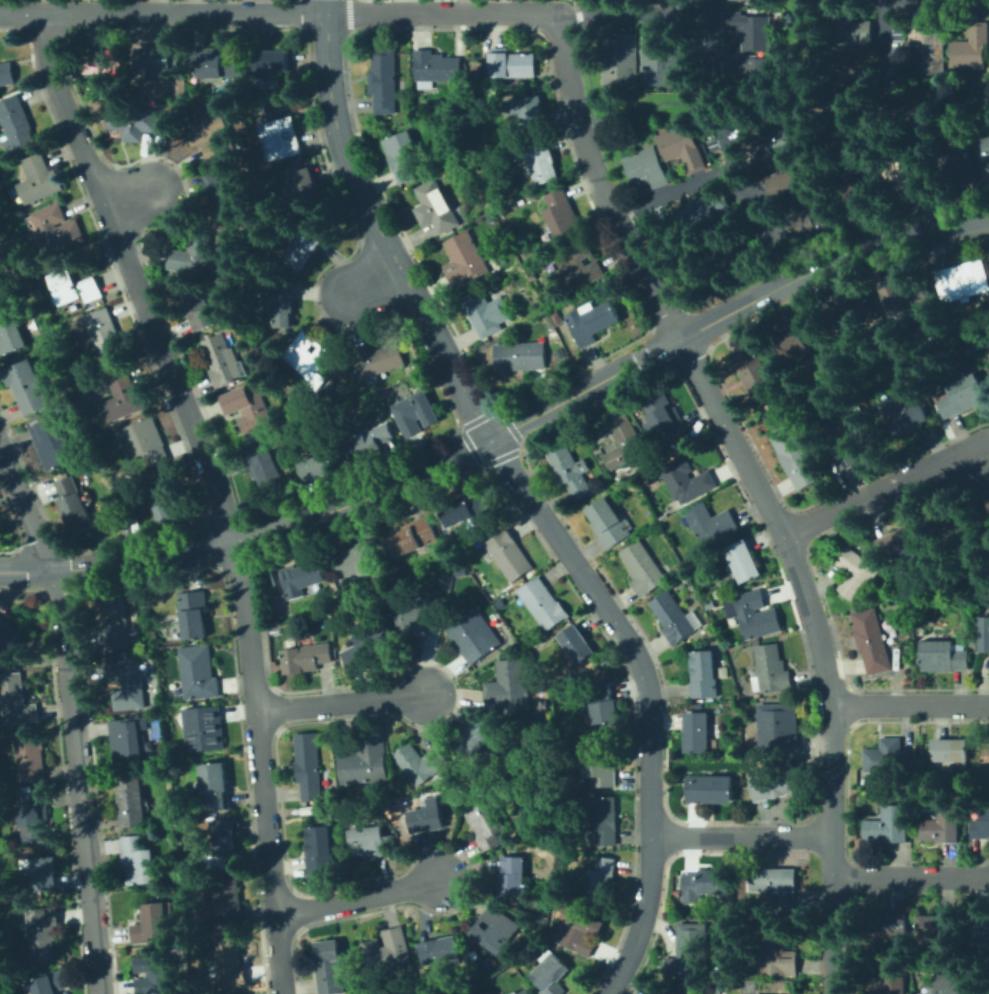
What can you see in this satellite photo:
building: (742, 0)
road: (938, 1)
road: (349, 6)
road: (633, 13)
road: (277, 14)
building: (847, 27)
building: (749, 30)
road: (714, 33)
road: (887, 38)
building: (971, 48)
building: (926, 49)
building: (154, 59)
building: (621, 60)
building: (106, 61)
building: (658, 61)
building: (215, 63)
building: (269, 63)
building: (512, 64)
building: (475, 66)
building: (851, 67)
building: (435, 69)
building: (751, 70)
building: (7, 74)
building: (383, 81)
building: (516, 86)
building: (472, 92)
road: (887, 96)
road: (782, 105)
building: (532, 114)
building: (416, 115)
road: (715, 117)
building: (133, 120)
building: (17, 123)
building: (213, 136)
building: (281, 138)
building: (784, 144)
building: (682, 147)
building: (402, 156)
building: (984, 158)
building: (464, 162)
building: (542, 163)
building: (961, 167)
building: (646, 169)
building: (909, 178)
building: (40, 180)
road: (744, 183)
building: (861, 184)
building: (792, 185)
building: (305, 187)
road: (674, 189)
building: (227, 194)
building: (506, 197)
road: (137, 200)
building: (435, 208)
building: (707, 214)
building: (561, 215)
building: (490, 218)
building: (810, 226)
road: (377, 228)
building: (57, 229)
building: (304, 249)
building: (723, 252)
building: (193, 254)
building: (464, 260)
building: (730, 261)
building: (988, 263)
building: (581, 267)
building: (533, 277)
road: (371, 278)
building: (963, 280)
building: (64, 284)
building: (92, 290)
building: (0, 295)
building: (906, 295)
building: (280, 306)
building: (198, 309)
building: (854, 309)
building: (487, 312)
building: (591, 322)
building: (232, 327)
building: (797, 335)
building: (10, 336)
building: (106, 336)
building: (306, 355)
building: (520, 357)
building: (377, 360)
building: (224, 361)
building: (264, 369)
building: (754, 374)
building: (27, 387)
building: (961, 395)
building: (125, 397)
building: (249, 406)
building: (297, 407)
building: (415, 412)
building: (904, 416)
building: (663, 417)
road: (721, 420)
road: (506, 430)
building: (271, 431)
building: (146, 440)
building: (851, 440)
building: (370, 442)
building: (52, 444)
building: (625, 445)
building: (794, 456)
building: (318, 464)
building: (264, 469)
building: (569, 471)
building: (685, 480)
road: (884, 487)
road: (216, 492)
building: (167, 496)
building: (73, 506)
building: (465, 510)
building: (663, 517)
building: (608, 523)
building: (711, 524)
building: (131, 527)
building: (967, 527)
building: (858, 530)
building: (412, 538)
building: (905, 540)
building: (509, 555)
building: (448, 558)
building: (357, 561)
building: (743, 561)
building: (643, 568)
building: (855, 572)
building: (269, 577)
building: (301, 578)
building: (337, 599)
building: (717, 602)
building: (543, 605)
building: (194, 614)
building: (753, 614)
building: (416, 615)
building: (674, 618)
building: (156, 620)
building: (116, 625)
building: (711, 632)
building: (984, 634)
building: (473, 636)
building: (15, 639)
building: (871, 641)
building: (577, 644)
building: (369, 645)
building: (306, 657)
building: (942, 657)
building: (770, 670)
building: (197, 673)
building: (703, 675)
building: (126, 683)
building: (508, 685)
road: (648, 698)
building: (17, 703)
road: (341, 703)
building: (603, 703)
road: (910, 706)
road: (72, 717)
building: (777, 727)
building: (203, 728)
building: (696, 732)
building: (475, 738)
building: (127, 739)
building: (949, 750)
building: (985, 756)
building: (30, 757)
building: (890, 757)
building: (365, 763)
building: (420, 763)
building: (600, 764)
building: (307, 767)
building: (538, 779)
building: (774, 782)
building: (214, 786)
building: (709, 789)
building: (131, 800)
building: (474, 800)
building: (34, 817)
building: (221, 817)
building: (427, 818)
building: (603, 819)
building: (486, 825)
building: (941, 825)
building: (981, 825)
building: (888, 826)
road: (741, 835)
building: (224, 837)
building: (372, 842)
building: (320, 853)
building: (137, 861)
building: (44, 873)
building: (513, 877)
road: (912, 877)
building: (599, 880)
building: (705, 884)
building: (777, 887)
building: (15, 895)
road: (360, 900)
building: (220, 901)
road: (835, 914)
building: (150, 923)
building: (886, 925)
building: (938, 927)
building: (578, 929)
building: (495, 930)
building: (42, 932)
building: (979, 932)
building: (440, 950)
building: (387, 951)
building: (689, 952)
building: (775, 954)
building: (467, 959)
building: (230, 962)
building: (329, 967)
building: (155, 975)
building: (551, 975)
building: (48, 984)
building: (955, 984)
building: (890, 985)
building: (663, 991)
building: (526, 992)

